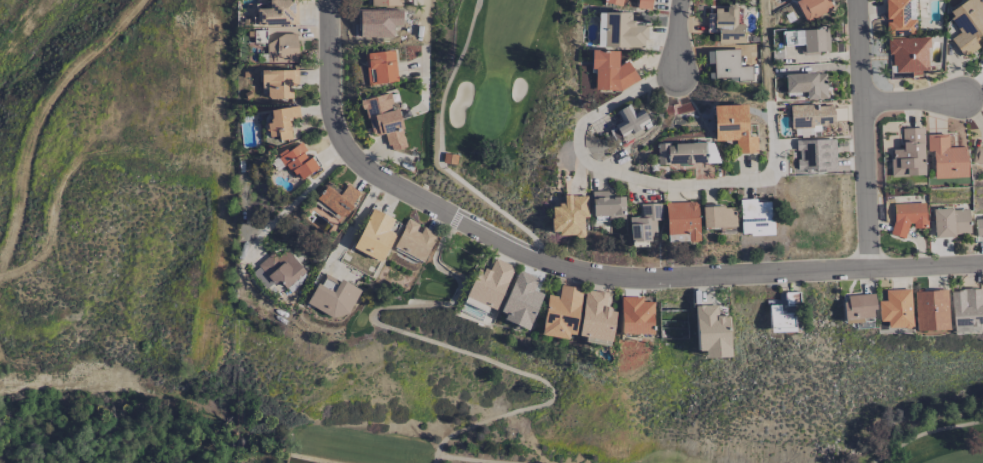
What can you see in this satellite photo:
building: (614, 2)
building: (385, 3)
building: (643, 4)
building: (812, 8)
building: (277, 13)
building: (899, 16)
building: (727, 25)
building: (966, 26)
building: (619, 31)
road: (676, 40)
building: (811, 41)
building: (281, 49)
road: (423, 51)
building: (907, 56)
building: (982, 63)
building: (729, 66)
building: (380, 67)
building: (610, 70)
building: (279, 82)
building: (805, 85)
road: (916, 98)
building: (810, 116)
building: (384, 120)
building: (281, 122)
building: (627, 124)
building: (732, 127)
road: (863, 131)
building: (685, 154)
building: (908, 154)
building: (813, 156)
building: (977, 156)
building: (945, 157)
building: (297, 161)
road: (690, 188)
road: (296, 198)
building: (337, 201)
building: (606, 205)
building: (568, 216)
building: (717, 216)
building: (754, 217)
building: (907, 217)
road: (358, 219)
building: (644, 222)
building: (681, 222)
building: (950, 222)
building: (978, 226)
building: (374, 236)
park: (471, 237)
building: (414, 240)
road: (575, 262)
building: (280, 268)
building: (490, 284)
building: (332, 296)
building: (520, 300)
building: (858, 306)
building: (895, 308)
building: (931, 310)
building: (967, 310)
building: (561, 312)
building: (782, 313)
building: (635, 316)
building: (595, 318)
building: (710, 332)

